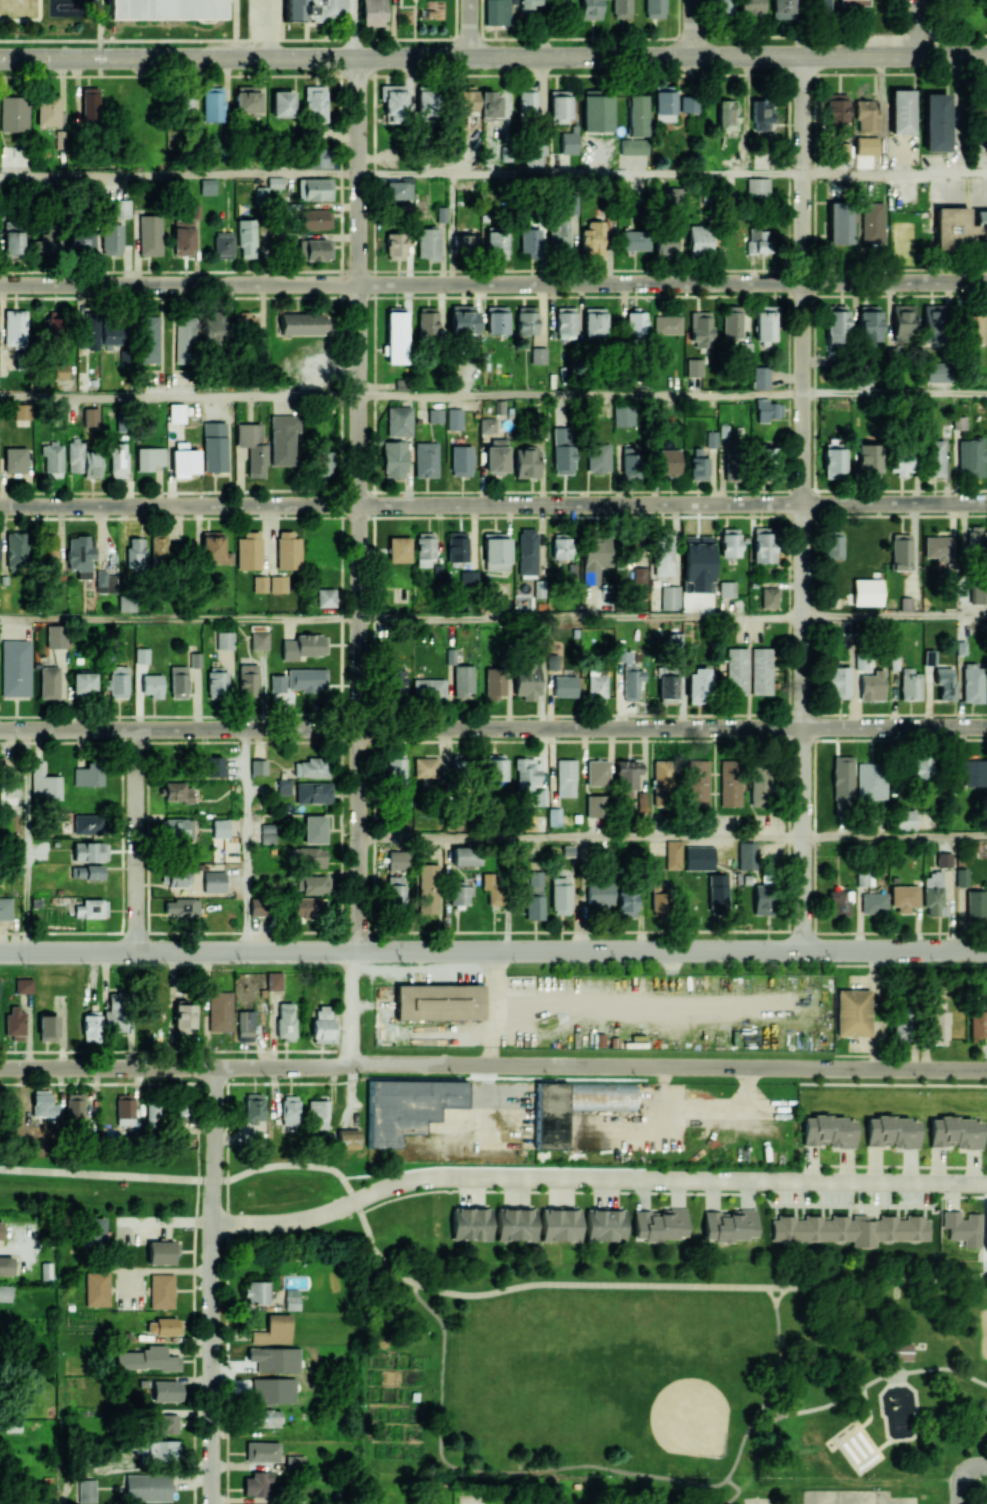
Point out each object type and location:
building: (561, 1)
building: (853, 2)
building: (817, 4)
building: (527, 5)
building: (722, 7)
building: (782, 8)
building: (164, 9)
building: (591, 9)
building: (620, 9)
building: (654, 9)
building: (315, 10)
building: (372, 12)
building: (497, 12)
road: (921, 27)
road: (270, 28)
road: (356, 28)
road: (470, 28)
road: (695, 28)
road: (99, 37)
road: (493, 56)
traffic signals: (100, 57)
road: (493, 74)
building: (462, 98)
building: (182, 100)
building: (246, 100)
building: (526, 101)
building: (393, 102)
building: (427, 102)
building: (282, 103)
building: (314, 103)
building: (664, 103)
building: (213, 104)
building: (490, 104)
building: (688, 104)
building: (90, 106)
building: (559, 106)
building: (835, 108)
building: (983, 108)
building: (48, 110)
building: (597, 111)
building: (901, 111)
building: (14, 113)
building: (637, 114)
building: (726, 114)
building: (866, 114)
building: (760, 115)
building: (936, 122)
building: (59, 139)
building: (569, 142)
building: (633, 145)
building: (842, 150)
building: (535, 154)
building: (322, 157)
building: (761, 160)
road: (179, 174)
road: (581, 174)
road: (895, 174)
building: (207, 186)
building: (316, 188)
building: (756, 188)
building: (398, 190)
building: (673, 200)
building: (121, 208)
building: (315, 219)
building: (839, 222)
building: (871, 222)
building: (981, 224)
building: (951, 227)
building: (149, 234)
building: (182, 236)
building: (246, 238)
building: (559, 238)
building: (699, 238)
building: (111, 239)
building: (592, 239)
building: (496, 240)
building: (634, 240)
building: (756, 240)
building: (530, 241)
building: (428, 242)
building: (665, 242)
building: (12, 243)
building: (80, 243)
building: (464, 243)
building: (223, 244)
building: (395, 245)
building: (314, 249)
road: (493, 283)
building: (462, 318)
building: (496, 319)
building: (526, 319)
building: (902, 320)
building: (594, 321)
building: (731, 321)
building: (244, 322)
building: (426, 322)
building: (565, 322)
building: (300, 323)
building: (868, 323)
building: (933, 323)
building: (52, 324)
building: (636, 324)
building: (667, 324)
building: (835, 324)
building: (763, 325)
building: (15, 328)
building: (213, 328)
building: (973, 328)
building: (700, 329)
building: (88, 331)
building: (110, 334)
building: (395, 338)
building: (148, 339)
building: (184, 339)
building: (538, 352)
building: (123, 358)
building: (694, 367)
building: (59, 371)
building: (937, 373)
building: (760, 377)
road: (895, 394)
road: (581, 395)
road: (179, 396)
building: (767, 410)
building: (176, 412)
building: (435, 415)
building: (623, 415)
building: (90, 416)
building: (454, 418)
building: (399, 421)
building: (487, 425)
building: (711, 438)
building: (282, 439)
building: (214, 446)
building: (252, 447)
building: (562, 448)
building: (74, 456)
building: (496, 456)
building: (598, 457)
building: (629, 457)
building: (970, 457)
building: (117, 458)
building: (147, 458)
building: (394, 458)
building: (934, 458)
building: (15, 459)
building: (184, 459)
building: (425, 459)
building: (771, 459)
building: (867, 459)
building: (52, 460)
building: (461, 460)
building: (326, 462)
building: (526, 462)
building: (668, 462)
building: (91, 463)
building: (833, 463)
building: (900, 463)
building: (699, 465)
road: (803, 503)
road: (493, 504)
road: (360, 505)
building: (976, 539)
building: (729, 542)
building: (763, 544)
building: (832, 545)
building: (158, 546)
building: (456, 546)
building: (694, 547)
building: (937, 547)
building: (214, 548)
building: (425, 548)
building: (561, 548)
building: (399, 549)
building: (249, 550)
building: (287, 550)
building: (16, 551)
building: (49, 551)
building: (136, 551)
building: (496, 551)
building: (527, 551)
building: (663, 551)
building: (900, 552)
building: (80, 555)
building: (632, 555)
building: (595, 560)
building: (639, 574)
building: (468, 577)
building: (106, 582)
building: (260, 583)
building: (278, 583)
building: (867, 592)
building: (977, 594)
building: (326, 597)
building: (670, 597)
building: (768, 597)
road: (895, 615)
road: (180, 616)
road: (581, 616)
building: (55, 636)
building: (259, 639)
building: (224, 640)
building: (303, 646)
building: (142, 655)
building: (928, 657)
building: (194, 659)
building: (15, 668)
building: (736, 670)
building: (760, 670)
building: (247, 677)
building: (178, 679)
building: (306, 679)
building: (395, 680)
building: (463, 680)
building: (526, 680)
building: (118, 681)
building: (49, 682)
building: (495, 682)
building: (632, 682)
building: (667, 682)
building: (836, 682)
building: (944, 682)
building: (972, 682)
building: (83, 683)
building: (277, 683)
building: (598, 683)
building: (216, 684)
building: (152, 685)
building: (872, 685)
building: (909, 685)
building: (565, 686)
building: (697, 686)
building: (428, 689)
building: (247, 695)
road: (493, 728)
building: (214, 766)
building: (258, 766)
building: (921, 766)
building: (312, 767)
building: (395, 767)
building: (425, 767)
building: (495, 767)
building: (527, 770)
building: (972, 772)
building: (597, 773)
building: (88, 774)
building: (628, 775)
building: (566, 777)
building: (871, 780)
building: (698, 782)
building: (44, 783)
building: (661, 783)
building: (730, 783)
building: (842, 784)
building: (284, 786)
building: (759, 787)
building: (177, 792)
building: (313, 792)
building: (595, 806)
building: (554, 816)
building: (903, 819)
building: (87, 824)
building: (178, 828)
building: (220, 828)
building: (315, 828)
building: (268, 832)
road: (895, 836)
road: (581, 837)
road: (26, 841)
road: (136, 841)
road: (246, 841)
building: (90, 851)
building: (464, 855)
building: (673, 855)
building: (747, 855)
building: (310, 856)
building: (699, 857)
building: (944, 859)
building: (397, 860)
building: (93, 870)
building: (77, 871)
building: (177, 877)
building: (961, 877)
building: (864, 878)
building: (214, 882)
building: (312, 884)
building: (428, 888)
building: (493, 888)
building: (395, 889)
building: (717, 893)
building: (599, 894)
building: (933, 894)
building: (460, 895)
building: (534, 895)
building: (560, 895)
building: (903, 897)
building: (658, 898)
building: (762, 899)
building: (839, 902)
building: (873, 902)
building: (975, 903)
building: (181, 906)
building: (258, 906)
building: (309, 907)
building: (5, 908)
building: (91, 908)
road: (671, 951)
road: (178, 953)
road: (424, 969)
building: (274, 980)
building: (23, 985)
building: (438, 1003)
road: (351, 1009)
building: (217, 1011)
building: (115, 1013)
building: (848, 1013)
building: (184, 1018)
building: (285, 1021)
building: (15, 1022)
building: (321, 1023)
building: (978, 1023)
building: (245, 1025)
building: (901, 1025)
building: (91, 1026)
building: (48, 1027)
building: (938, 1028)
road: (453, 1031)
road: (491, 1048)
road: (599, 1066)
road: (106, 1068)
building: (599, 1096)
building: (42, 1104)
building: (891, 1104)
building: (74, 1107)
building: (253, 1107)
building: (407, 1108)
building: (124, 1109)
building: (179, 1109)
building: (289, 1109)
building: (317, 1114)
building: (549, 1116)
building: (828, 1131)
building: (891, 1131)
building: (956, 1132)
building: (345, 1138)
road: (313, 1165)
road: (106, 1175)
road: (595, 1178)
road: (167, 1223)
building: (470, 1223)
building: (515, 1223)
building: (560, 1224)
building: (604, 1224)
building: (659, 1224)
building: (729, 1225)
building: (963, 1227)
building: (1, 1229)
building: (850, 1229)
building: (986, 1230)
building: (92, 1231)
road: (291, 1240)
road: (10, 1247)
building: (162, 1252)
building: (6, 1265)
road: (169, 1271)
road: (881, 1280)
road: (564, 1283)
road: (212, 1286)
building: (97, 1288)
building: (161, 1290)
building: (257, 1292)
building: (5, 1293)
road: (770, 1294)
road: (780, 1294)
building: (291, 1299)
building: (168, 1326)
building: (274, 1329)
park: (983, 1331)
park: (562, 1341)
building: (899, 1350)
building: (144, 1359)
road: (779, 1372)
park: (680, 1376)
road: (864, 1385)
building: (260, 1386)
building: (167, 1391)
building: (795, 1391)
road: (868, 1407)
park: (562, 1408)
building: (265, 1418)
building: (166, 1423)
road: (867, 1438)
road: (896, 1439)
park: (702, 1443)
road: (860, 1443)
road: (884, 1443)
road: (853, 1448)
building: (162, 1451)
building: (262, 1451)
road: (847, 1453)
road: (738, 1456)
road: (776, 1459)
building: (295, 1461)
road: (974, 1467)
road: (125, 1469)
road: (491, 1470)
building: (256, 1483)
road: (733, 1485)
building: (147, 1488)
road: (959, 1488)
building: (86, 1490)
park: (840, 1496)
road: (733, 1497)
park: (897, 1500)
park: (757, 1501)

